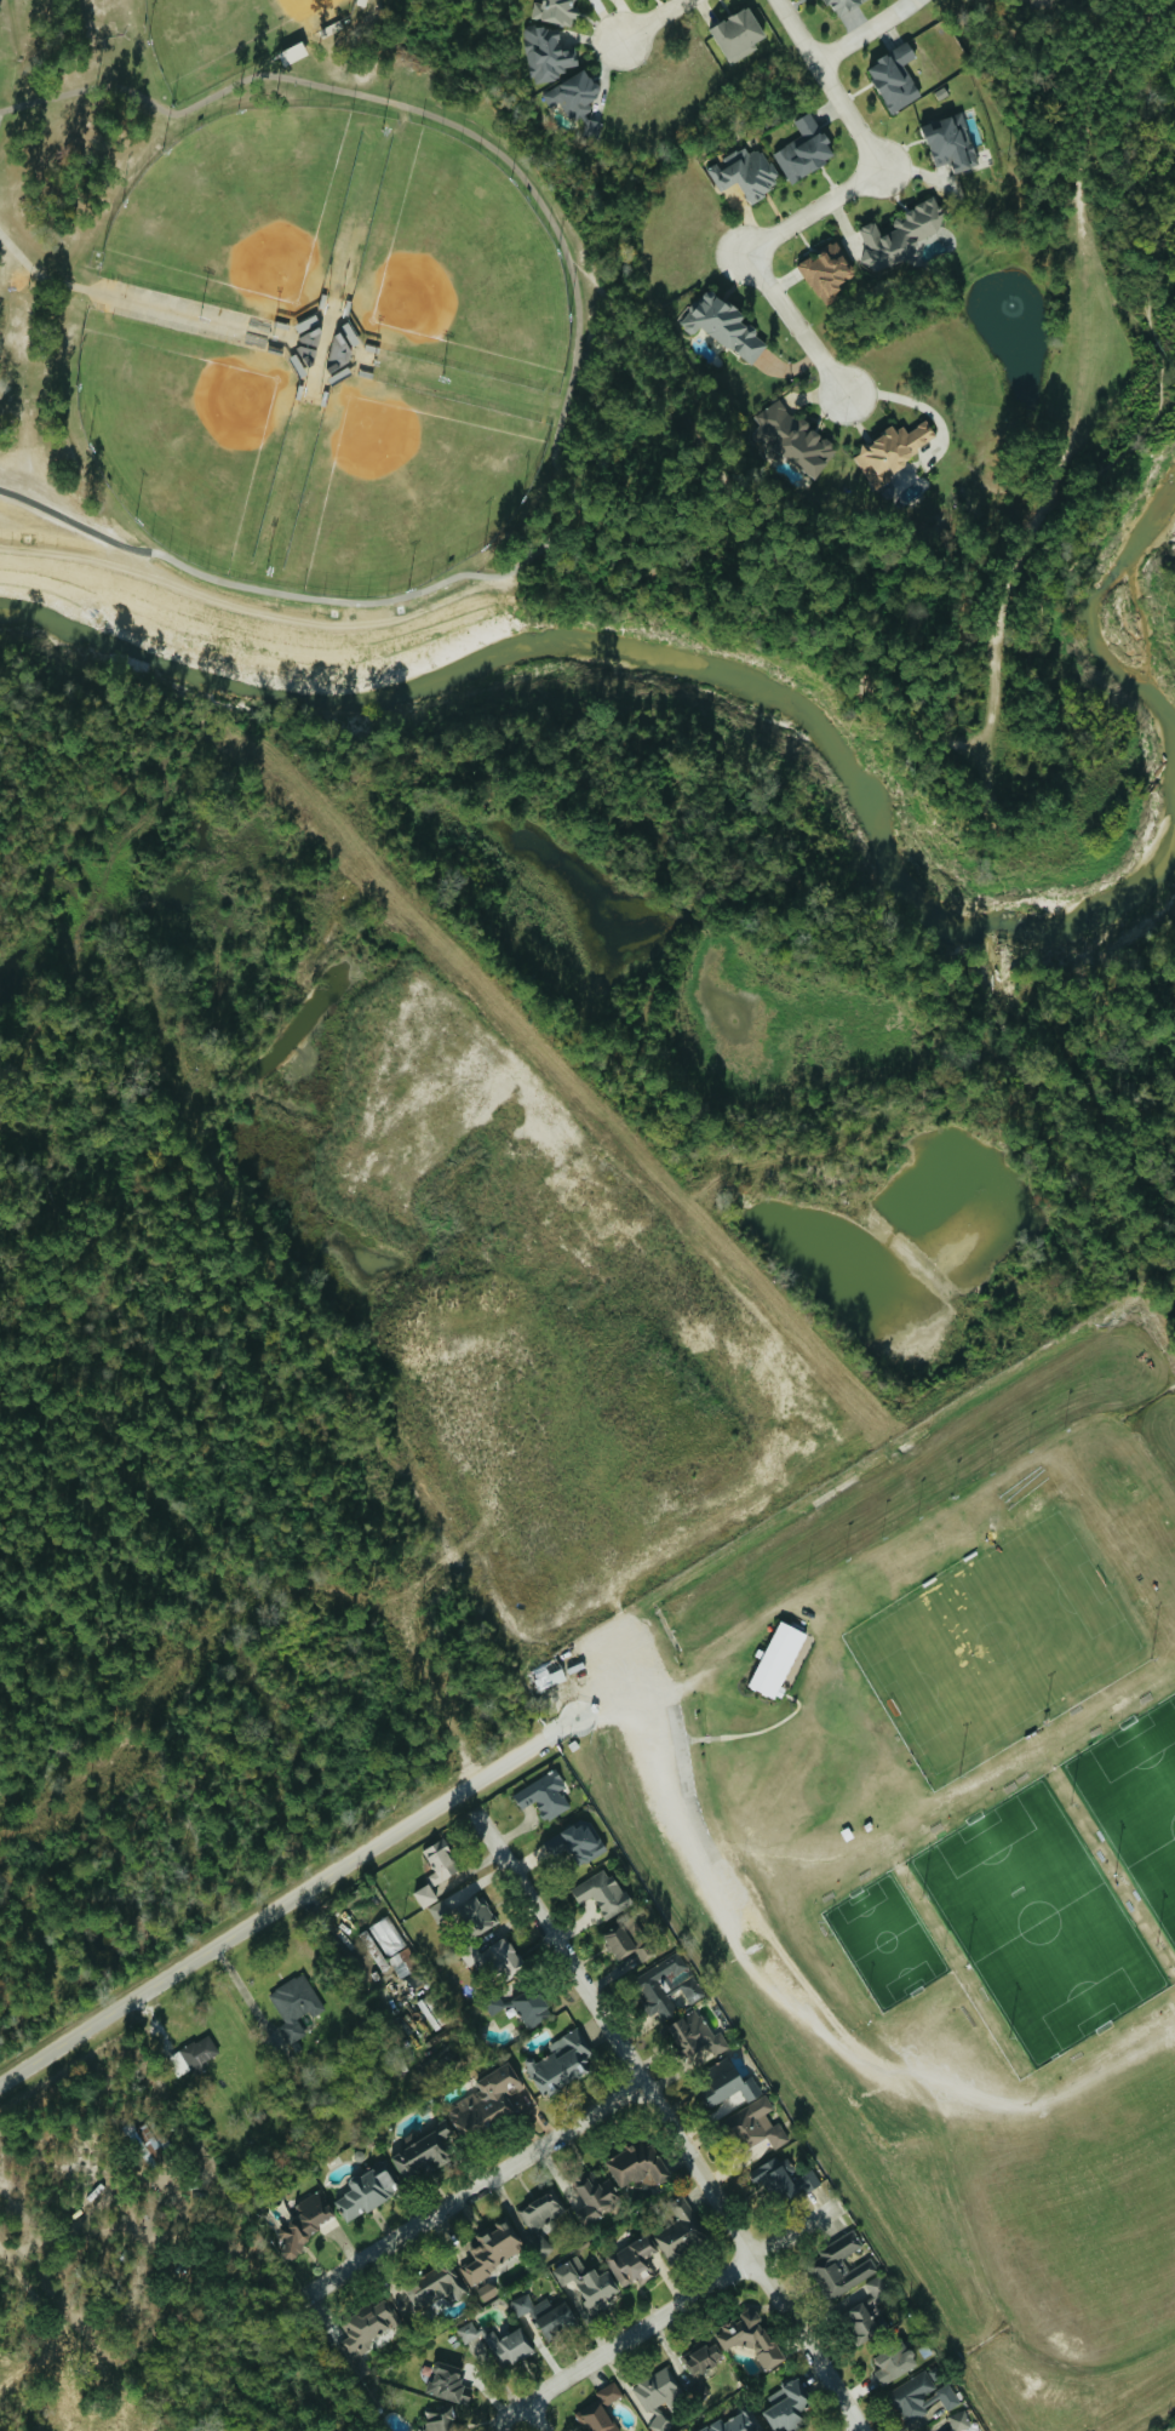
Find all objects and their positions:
building: (841, 4)
building: (555, 11)
road: (654, 22)
road: (864, 32)
building: (736, 34)
park: (228, 35)
road: (1150, 35)
building: (546, 53)
building: (894, 78)
building: (575, 99)
building: (950, 143)
building: (804, 149)
road: (872, 150)
building: (745, 172)
park: (240, 211)
building: (899, 235)
park: (459, 265)
building: (826, 273)
road: (797, 324)
building: (723, 326)
park: (337, 355)
road: (572, 366)
park: (184, 431)
building: (793, 439)
building: (893, 448)
road: (721, 477)
park: (405, 486)
river: (1093, 617)
river: (689, 665)
road: (1030, 699)
park: (1002, 1642)
building: (776, 1659)
building: (548, 1674)
road: (653, 1709)
building: (544, 1795)
park: (1136, 1801)
building: (579, 1843)
building: (440, 1861)
building: (601, 1894)
building: (424, 1895)
road: (291, 1898)
building: (465, 1912)
park: (1039, 1921)
building: (388, 1934)
park: (887, 1940)
building: (626, 1945)
building: (492, 1958)
building: (666, 1987)
building: (493, 2002)
building: (296, 2003)
building: (531, 2007)
building: (695, 2035)
building: (194, 2054)
building: (560, 2063)
building: (726, 2083)
building: (486, 2099)
road: (667, 2121)
building: (756, 2126)
building: (423, 2153)
building: (637, 2164)
building: (781, 2179)
road: (474, 2191)
building: (365, 2193)
building: (597, 2200)
building: (541, 2209)
building: (304, 2224)
building: (680, 2227)
building: (492, 2250)
building: (631, 2263)
building: (824, 2266)
building: (586, 2283)
building: (434, 2287)
building: (487, 2292)
building: (879, 2293)
road: (686, 2303)
building: (546, 2315)
building: (861, 2322)
building: (369, 2323)
road: (70, 2335)
building: (749, 2338)
building: (701, 2358)
building: (893, 2362)
road: (73, 2383)
building: (446, 2383)
building: (658, 2390)
building: (609, 2393)
building: (921, 2397)
building: (786, 2406)
road: (512, 2412)
road: (535, 2416)
building: (595, 2418)
building: (440, 2419)
building: (959, 2420)
building: (733, 2423)
building: (660, 2424)

